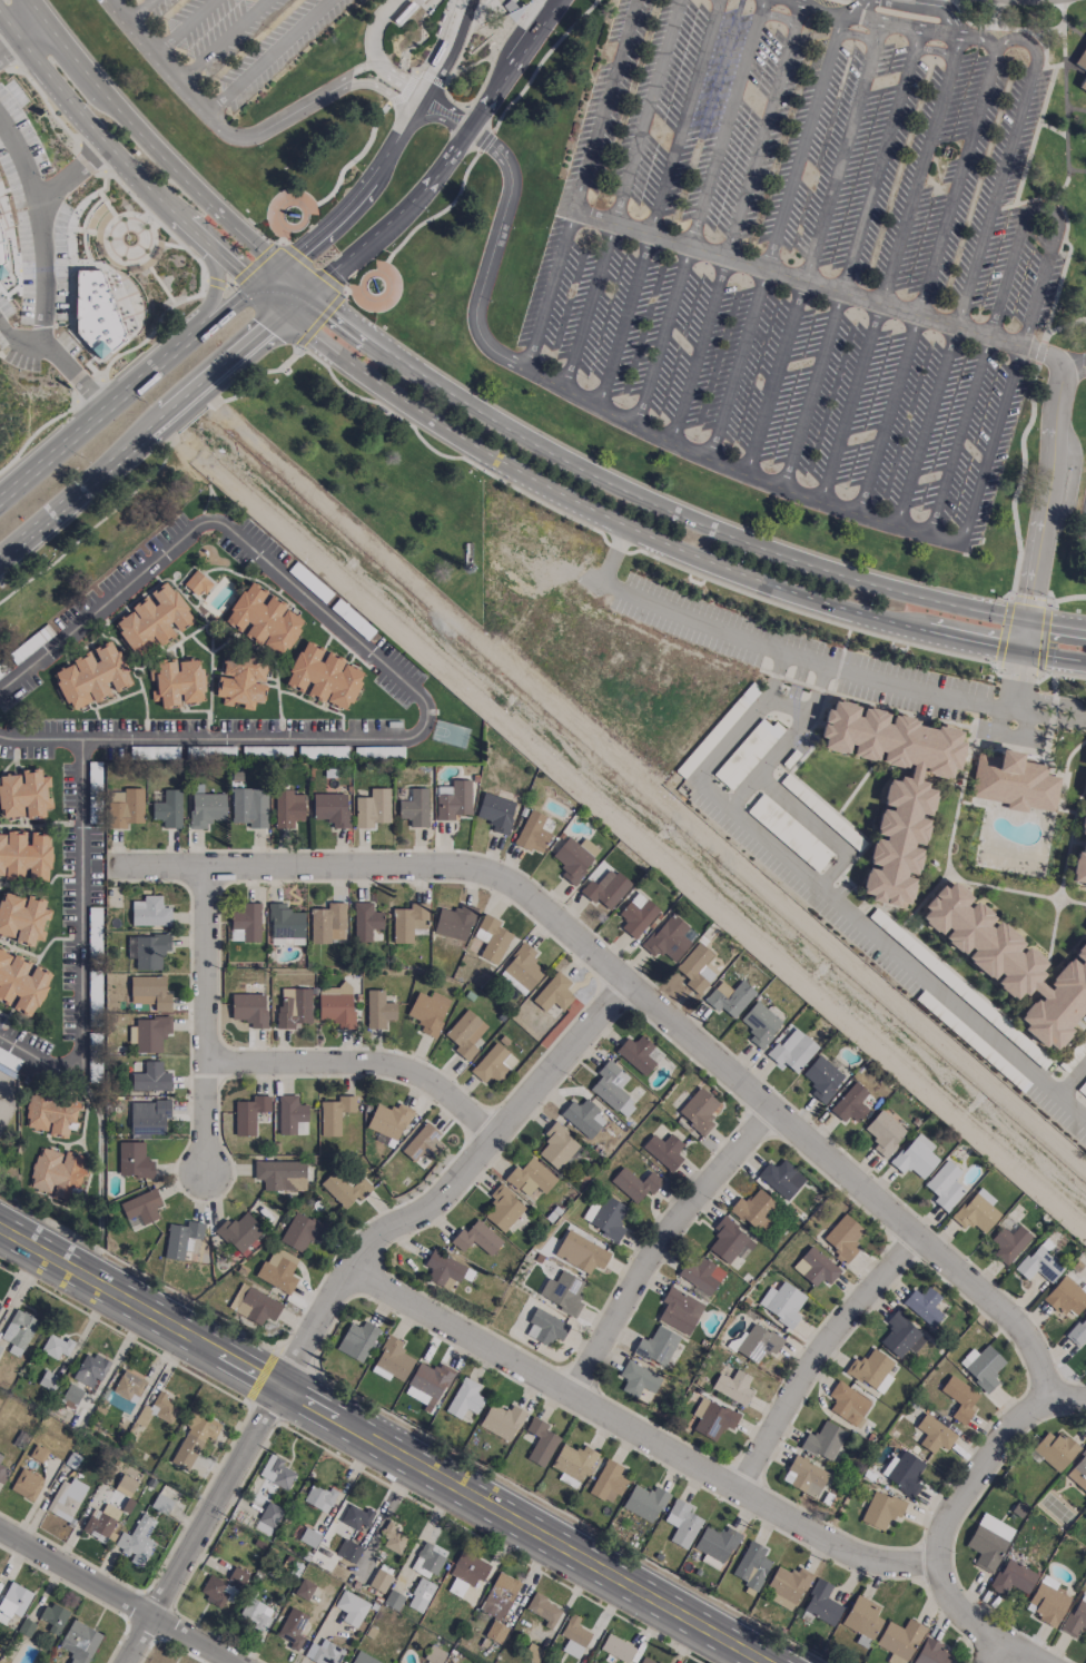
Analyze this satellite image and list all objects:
road: (717, 0)
road: (842, 1)
road: (760, 7)
road: (819, 7)
road: (853, 8)
road: (137, 9)
road: (840, 22)
road: (900, 24)
road: (182, 26)
building: (502, 27)
road: (374, 30)
road: (977, 37)
parking lot: (240, 38)
road: (437, 38)
road: (219, 39)
road: (1011, 41)
road: (448, 46)
road: (11, 48)
road: (934, 49)
road: (267, 56)
road: (539, 60)
building: (1082, 60)
road: (166, 65)
road: (402, 80)
building: (1084, 86)
road: (404, 90)
road: (385, 91)
road: (1064, 107)
road: (302, 108)
road: (455, 109)
road: (485, 140)
road: (162, 155)
road: (120, 156)
road: (20, 158)
road: (448, 158)
road: (1076, 169)
road: (338, 177)
road: (583, 185)
road: (365, 189)
road: (623, 195)
road: (701, 201)
road: (658, 204)
road: (1044, 209)
road: (501, 216)
road: (735, 224)
road: (415, 226)
road: (777, 226)
road: (40, 228)
road: (902, 230)
road: (812, 249)
parking lot: (803, 250)
building: (0, 255)
road: (850, 260)
traffic signals: (280, 268)
road: (315, 268)
building: (1, 272)
road: (268, 277)
road: (927, 278)
road: (216, 282)
road: (969, 284)
road: (820, 286)
traffic signals: (256, 287)
road: (213, 291)
traffic signals: (309, 292)
road: (227, 296)
road: (269, 298)
traffic signals: (284, 311)
building: (95, 312)
road: (154, 328)
road: (57, 361)
road: (1073, 367)
road: (89, 391)
road: (126, 394)
road: (154, 423)
road: (34, 433)
road: (152, 472)
road: (741, 476)
road: (1043, 511)
road: (674, 513)
road: (660, 542)
building: (197, 583)
building: (152, 619)
building: (264, 620)
road: (779, 649)
parking lot: (833, 661)
road: (389, 667)
building: (91, 676)
building: (323, 676)
building: (241, 680)
road: (1017, 681)
building: (177, 682)
road: (771, 701)
road: (1053, 701)
road: (1000, 714)
road: (1047, 718)
road: (1025, 719)
road: (1084, 721)
road: (1010, 731)
building: (747, 752)
building: (1014, 783)
building: (895, 785)
building: (23, 794)
building: (453, 799)
building: (249, 806)
building: (125, 807)
building: (288, 808)
building: (330, 808)
building: (372, 808)
building: (414, 808)
building: (167, 809)
building: (206, 809)
building: (495, 811)
road: (817, 827)
building: (533, 831)
building: (1080, 854)
building: (24, 856)
building: (574, 857)
building: (605, 890)
building: (150, 912)
building: (636, 915)
building: (22, 918)
building: (246, 921)
building: (365, 921)
building: (285, 922)
building: (408, 922)
building: (454, 922)
building: (327, 923)
parking lot: (873, 934)
building: (491, 938)
building: (668, 938)
building: (287, 941)
road: (80, 946)
building: (147, 951)
road: (908, 964)
building: (1009, 964)
building: (695, 968)
building: (521, 970)
building: (21, 983)
building: (149, 992)
building: (553, 993)
building: (729, 997)
road: (645, 1001)
building: (294, 1007)
building: (249, 1008)
building: (336, 1010)
building: (378, 1010)
building: (428, 1012)
road: (204, 1016)
building: (759, 1024)
building: (148, 1034)
building: (465, 1034)
building: (792, 1050)
building: (635, 1053)
road: (361, 1061)
building: (490, 1064)
building: (150, 1077)
building: (821, 1079)
road: (1072, 1079)
building: (612, 1088)
building: (850, 1103)
building: (698, 1111)
building: (3, 1113)
building: (50, 1113)
building: (248, 1114)
building: (334, 1114)
building: (292, 1115)
building: (582, 1116)
building: (148, 1118)
building: (388, 1120)
building: (883, 1133)
building: (422, 1142)
building: (557, 1145)
building: (663, 1151)
building: (915, 1157)
building: (134, 1160)
building: (56, 1173)
building: (280, 1174)
building: (530, 1177)
building: (781, 1179)
building: (634, 1183)
building: (944, 1185)
building: (345, 1188)
building: (140, 1207)
building: (503, 1208)
building: (754, 1210)
building: (976, 1211)
building: (604, 1216)
building: (238, 1231)
building: (298, 1232)
building: (842, 1237)
building: (476, 1238)
building: (181, 1239)
building: (729, 1240)
building: (1008, 1243)
road: (656, 1244)
building: (580, 1252)
building: (1038, 1262)
building: (814, 1267)
building: (443, 1269)
building: (278, 1270)
building: (700, 1273)
building: (562, 1292)
building: (1065, 1297)
building: (781, 1301)
road: (352, 1302)
building: (254, 1305)
building: (922, 1306)
building: (679, 1310)
building: (545, 1328)
building: (18, 1331)
building: (1078, 1332)
building: (898, 1334)
building: (357, 1340)
building: (758, 1342)
building: (55, 1346)
building: (656, 1346)
road: (819, 1352)
building: (392, 1360)
building: (981, 1367)
building: (868, 1368)
building: (90, 1369)
building: (638, 1379)
building: (427, 1384)
building: (128, 1387)
building: (733, 1387)
building: (71, 1395)
road: (1067, 1396)
building: (464, 1398)
building: (960, 1398)
building: (847, 1403)
building: (158, 1410)
building: (712, 1418)
building: (501, 1420)
building: (935, 1434)
road: (648, 1435)
building: (194, 1437)
building: (540, 1441)
building: (823, 1441)
road: (382, 1448)
building: (1055, 1449)
building: (0, 1456)
building: (572, 1464)
road: (977, 1467)
building: (276, 1472)
building: (1078, 1472)
building: (3, 1473)
building: (905, 1473)
building: (804, 1476)
building: (608, 1479)
building: (126, 1483)
building: (27, 1484)
building: (318, 1497)
building: (66, 1498)
building: (162, 1498)
building: (644, 1502)
building: (881, 1509)
building: (356, 1517)
building: (267, 1518)
building: (101, 1522)
building: (681, 1523)
building: (308, 1537)
building: (393, 1538)
building: (137, 1541)
building: (988, 1542)
building: (715, 1545)
building: (348, 1551)
building: (427, 1559)
building: (751, 1565)
building: (467, 1569)
building: (237, 1576)
building: (1013, 1577)
building: (379, 1581)
building: (786, 1586)
building: (304, 1588)
building: (214, 1591)
building: (419, 1595)
building: (498, 1595)
road: (110, 1600)
building: (393, 1600)
building: (13, 1601)
building: (821, 1603)
building: (1047, 1604)
building: (351, 1608)
building: (543, 1610)
building: (257, 1614)
building: (861, 1616)
building: (52, 1617)
building: (1075, 1618)
road: (971, 1622)
building: (292, 1627)
building: (495, 1632)
building: (573, 1636)
building: (899, 1640)
building: (79, 1642)
building: (616, 1649)
building: (324, 1652)
building: (930, 1652)
building: (434, 1655)
road: (1006, 1655)
building: (363, 1659)
building: (645, 1660)

